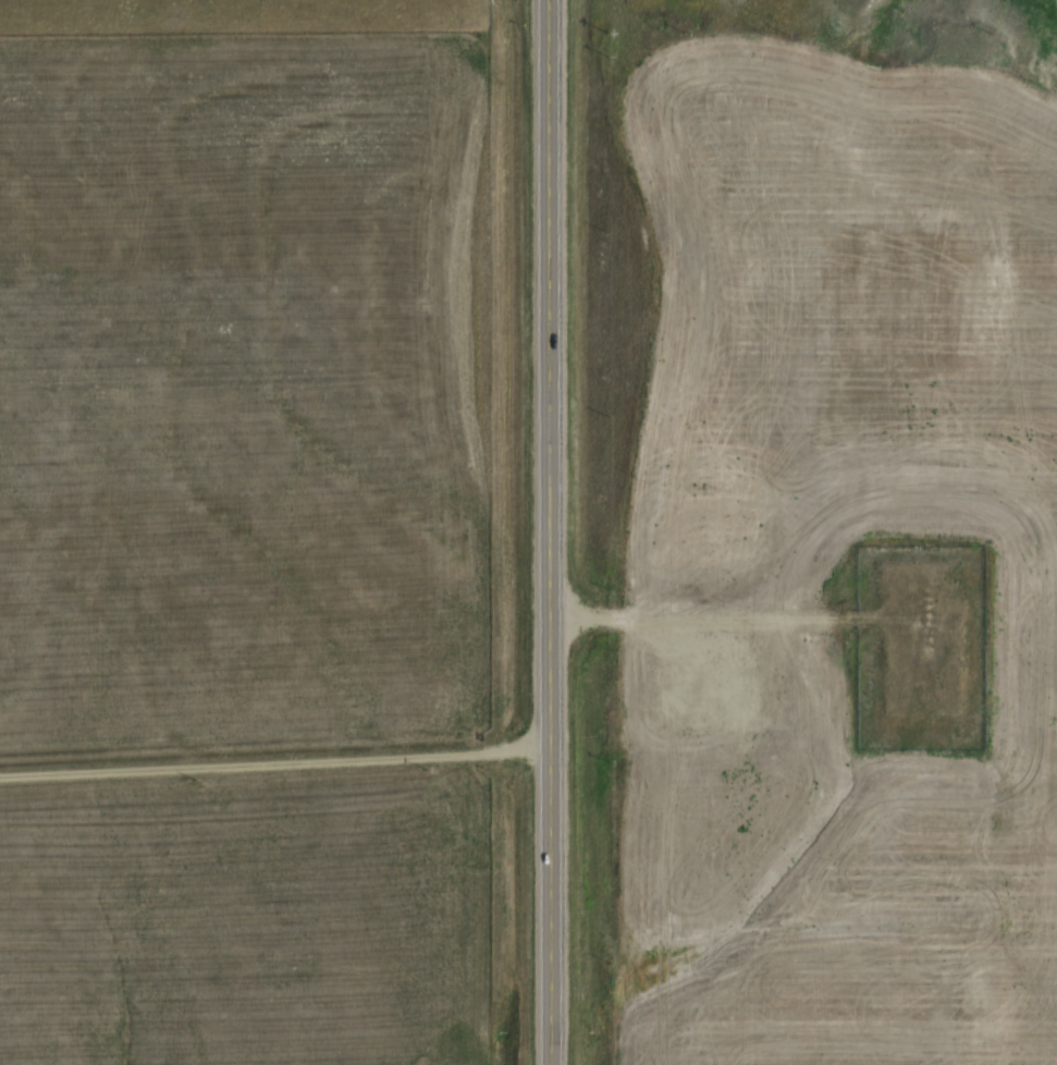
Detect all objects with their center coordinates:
road: (544, 531)
road: (711, 623)
road: (272, 758)

